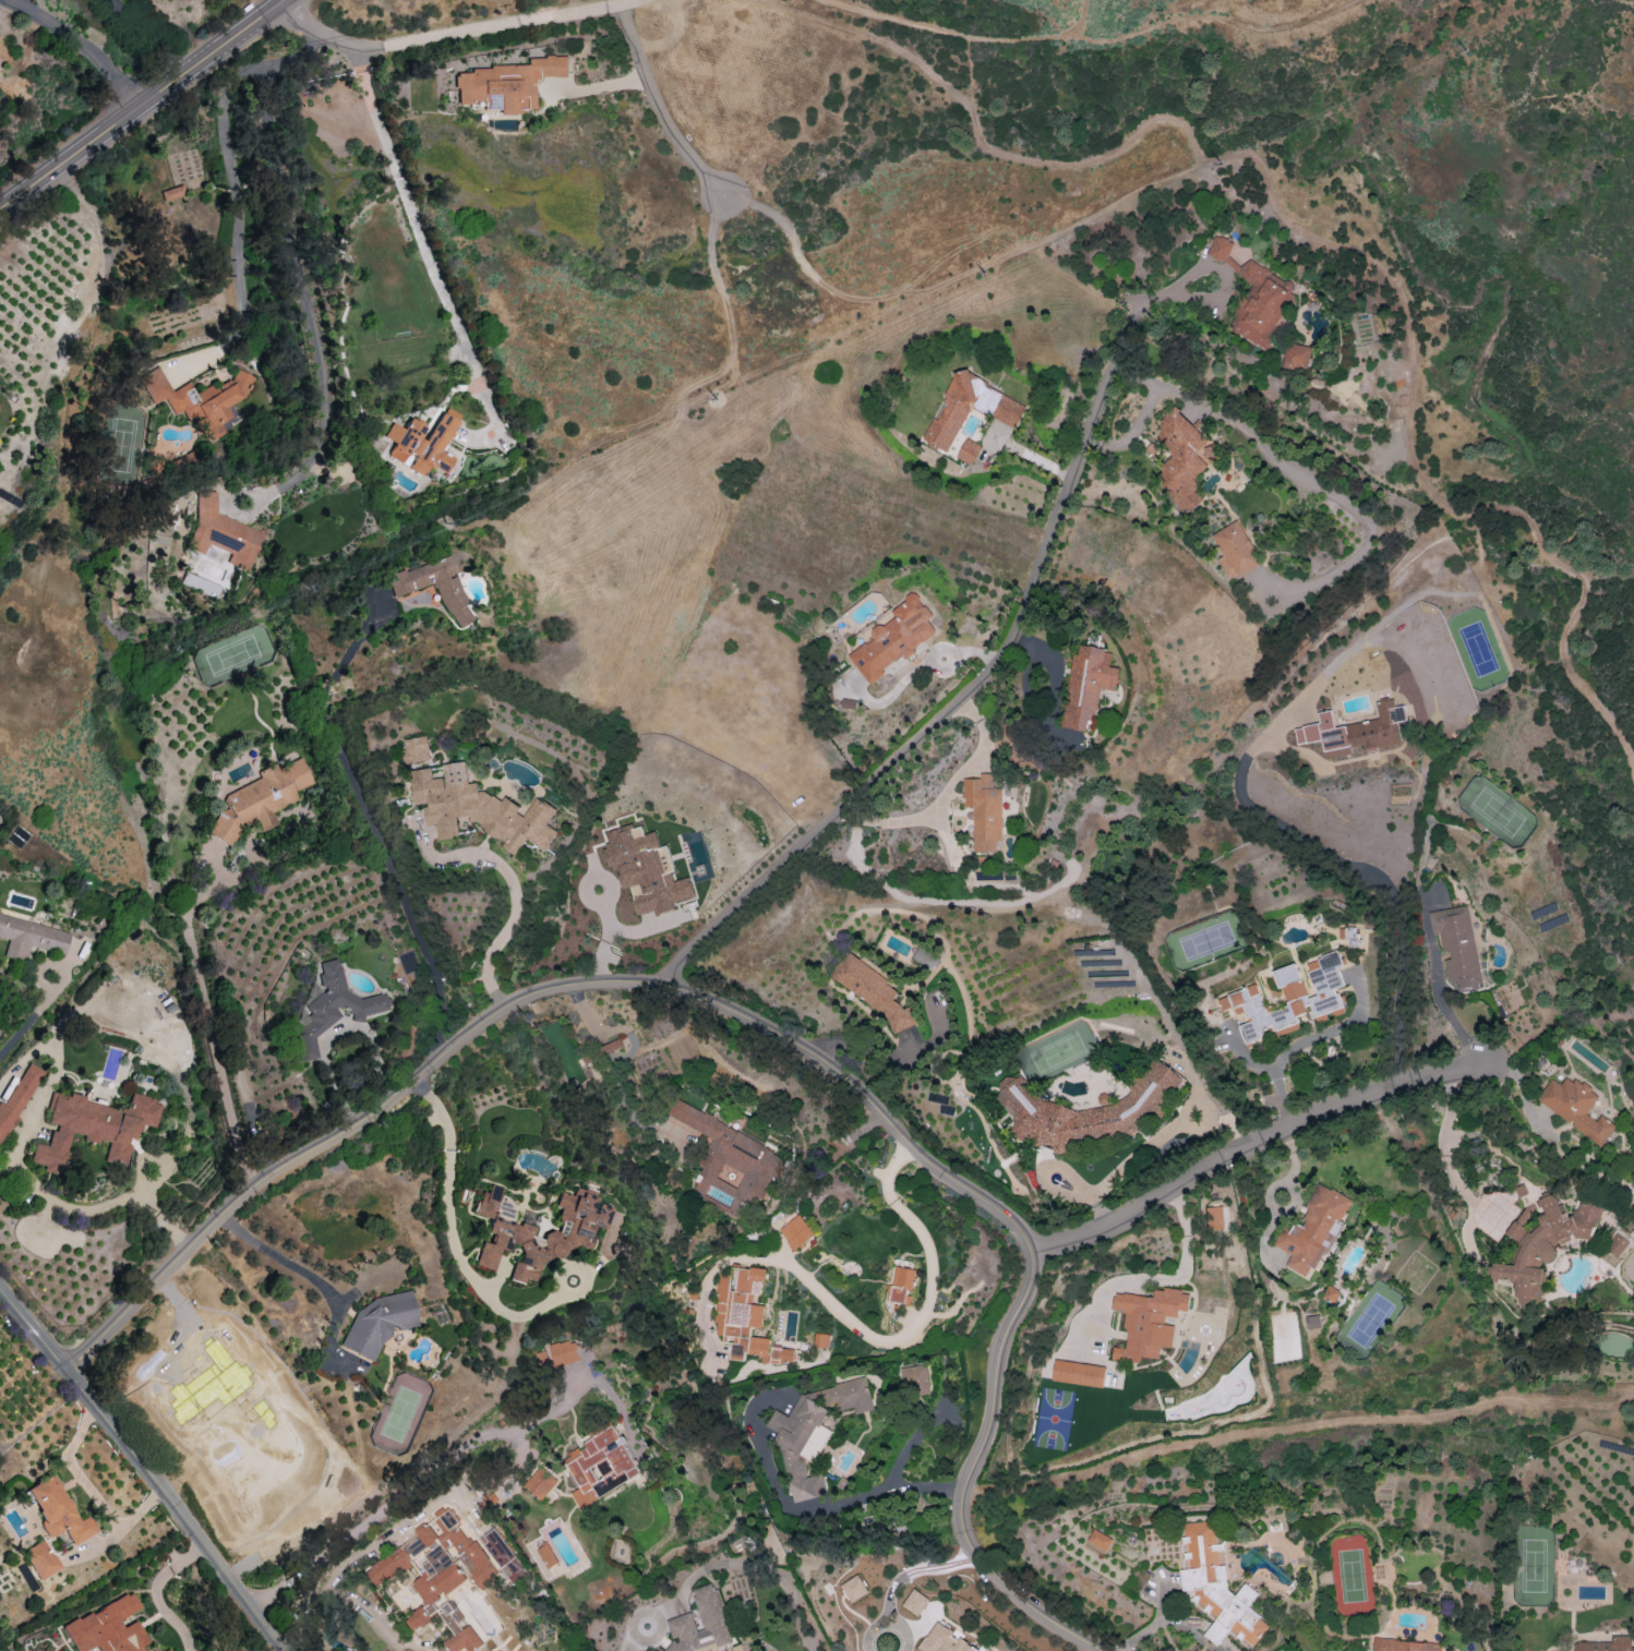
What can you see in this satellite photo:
road: (291, 2)
road: (1215, 17)
road: (459, 36)
road: (971, 38)
road: (143, 40)
road: (79, 47)
road: (899, 51)
road: (601, 84)
building: (507, 85)
road: (142, 108)
road: (663, 109)
road: (230, 160)
road: (407, 205)
building: (1220, 249)
road: (957, 272)
road: (720, 289)
road: (303, 291)
road: (1141, 303)
building: (1261, 303)
road: (1409, 341)
building: (1297, 354)
building: (199, 400)
building: (1000, 411)
road: (1134, 431)
building: (423, 443)
building: (968, 450)
building: (1182, 459)
road: (1307, 480)
building: (223, 534)
building: (1234, 550)
building: (191, 582)
building: (434, 587)
building: (893, 638)
building: (1086, 685)
road: (948, 713)
building: (1355, 732)
building: (418, 749)
building: (260, 800)
building: (478, 808)
building: (984, 811)
road: (376, 835)
building: (646, 869)
road: (1366, 879)
road: (509, 924)
building: (31, 939)
building: (1457, 947)
building: (874, 990)
building: (1288, 998)
building: (329, 1008)
road: (585, 1012)
road: (1451, 1014)
road: (32, 1019)
road: (209, 1024)
road: (760, 1029)
road: (1305, 1041)
building: (604, 1050)
road: (1450, 1081)
building: (16, 1099)
building: (1575, 1107)
building: (1085, 1110)
road: (1445, 1121)
building: (94, 1129)
road: (1167, 1132)
road: (1252, 1142)
road: (1465, 1196)
road: (1097, 1207)
building: (1214, 1218)
building: (1312, 1229)
building: (796, 1232)
building: (566, 1237)
building: (1541, 1242)
road: (454, 1244)
building: (1615, 1245)
road: (281, 1261)
road: (1175, 1282)
building: (901, 1285)
building: (746, 1316)
building: (1148, 1322)
building: (1312, 1322)
building: (379, 1324)
road: (862, 1326)
building: (821, 1339)
building: (556, 1355)
building: (1078, 1373)
building: (914, 1379)
building: (849, 1395)
road: (552, 1407)
road: (1296, 1429)
building: (801, 1444)
building: (601, 1466)
road: (145, 1468)
building: (540, 1483)
road: (89, 1492)
road: (837, 1504)
road: (385, 1508)
building: (58, 1511)
building: (1100, 1540)
building: (546, 1555)
building: (504, 1556)
building: (41, 1560)
building: (440, 1574)
road: (894, 1579)
building: (1217, 1587)
building: (853, 1588)
road: (156, 1590)
building: (915, 1602)
building: (712, 1615)
road: (1170, 1625)
building: (107, 1628)
building: (942, 1640)
building: (1608, 1644)
building: (170, 1650)

